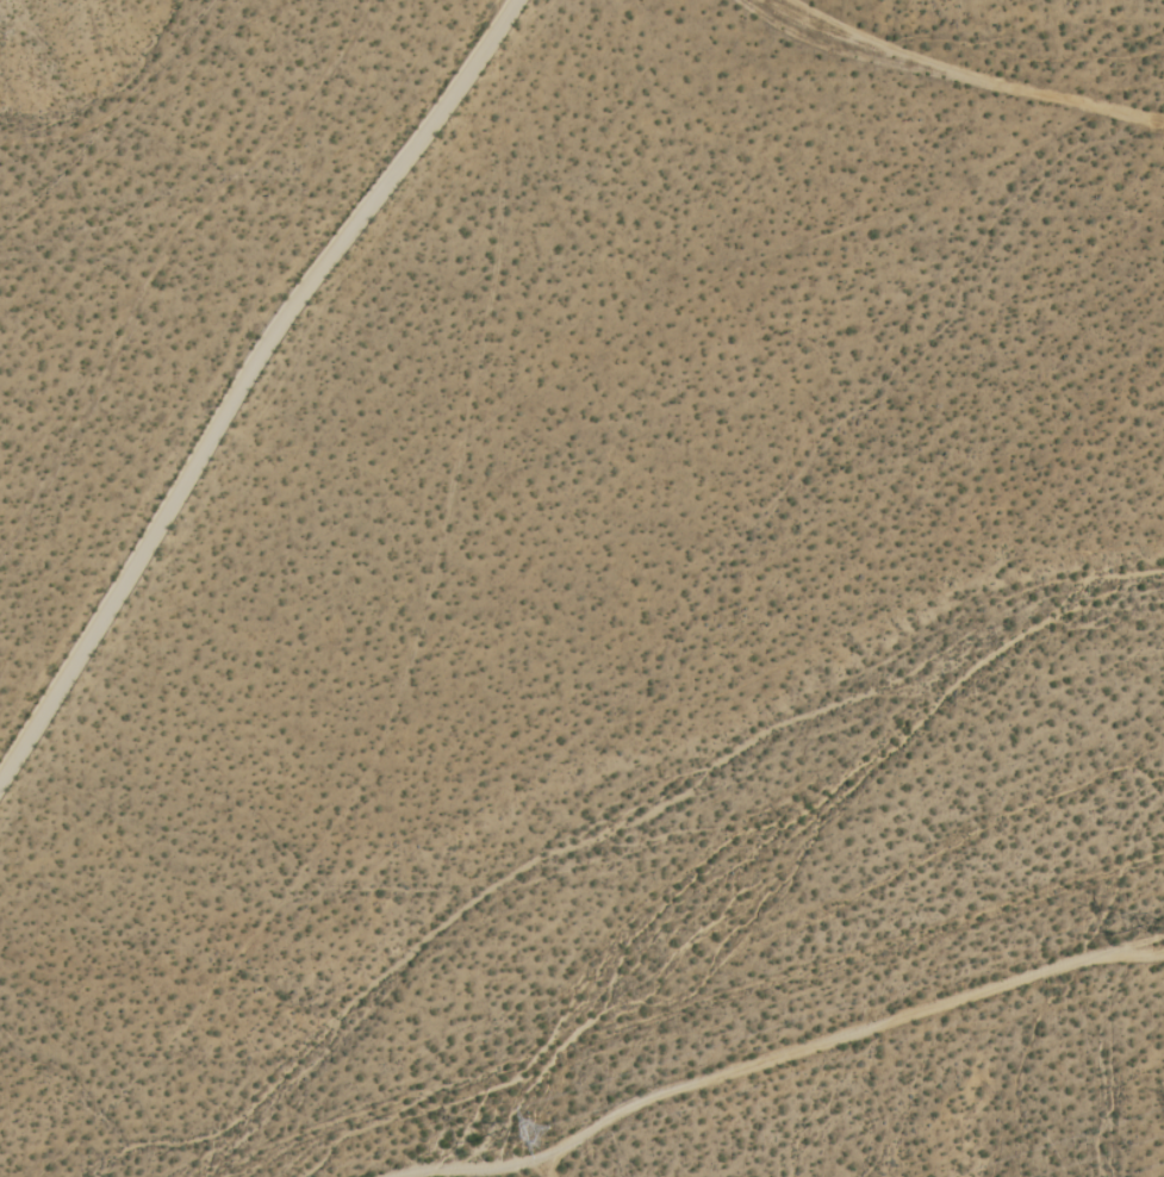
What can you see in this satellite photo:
road: (966, 63)
road: (237, 372)
power tower: (539, 1133)

